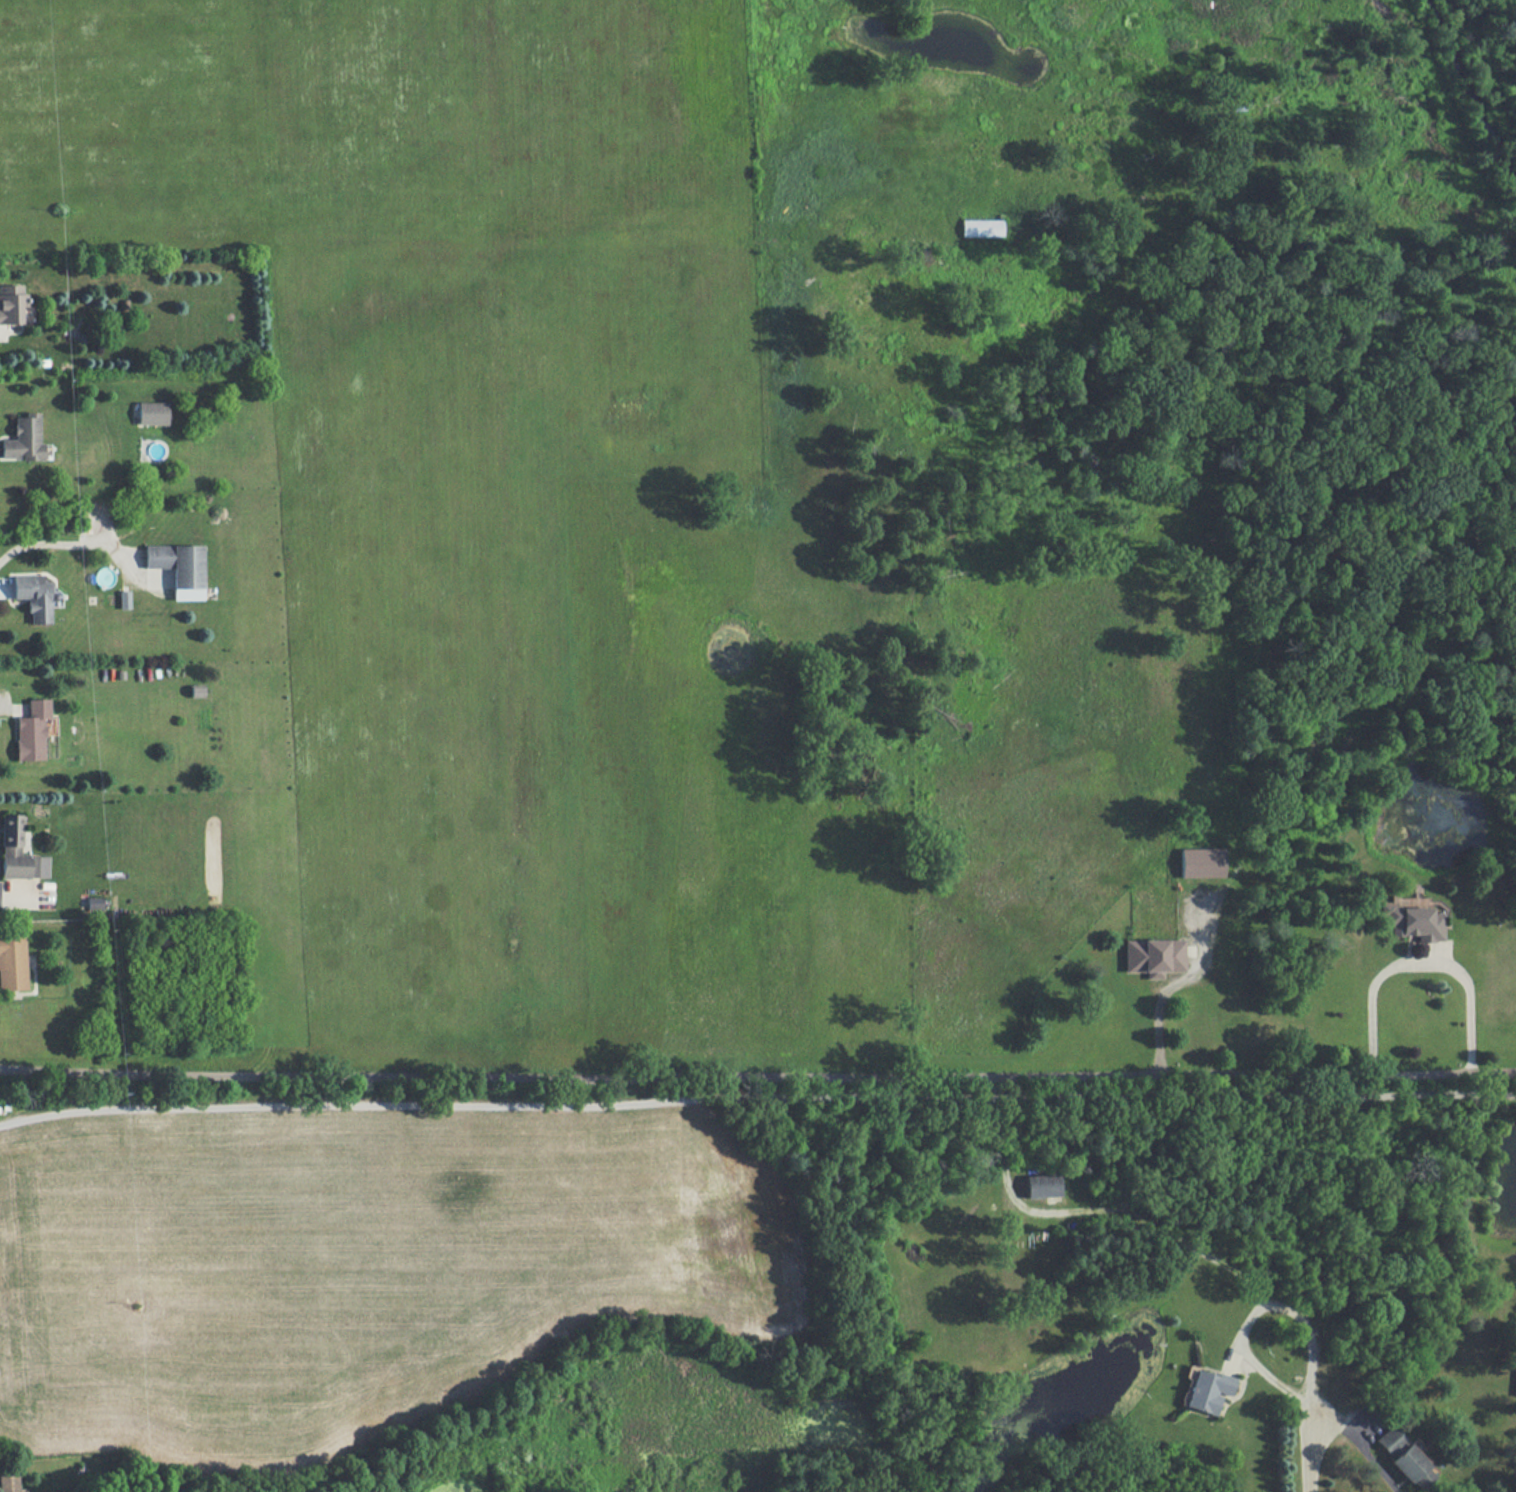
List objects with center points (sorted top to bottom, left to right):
building: (11, 302)
road: (1, 336)
building: (152, 412)
building: (23, 438)
road: (65, 545)
building: (178, 567)
building: (35, 596)
building: (124, 598)
road: (1, 710)
building: (31, 730)
building: (18, 851)
building: (1201, 862)
building: (95, 902)
road: (3, 903)
building: (1413, 921)
building: (1153, 956)
building: (12, 961)
road: (1419, 978)
road: (1161, 1002)
road: (757, 1078)
building: (1041, 1185)
road: (1147, 1221)
road: (1253, 1362)
building: (1514, 1385)
building: (1206, 1390)
road: (1323, 1405)
building: (1405, 1458)
building: (8, 1482)

